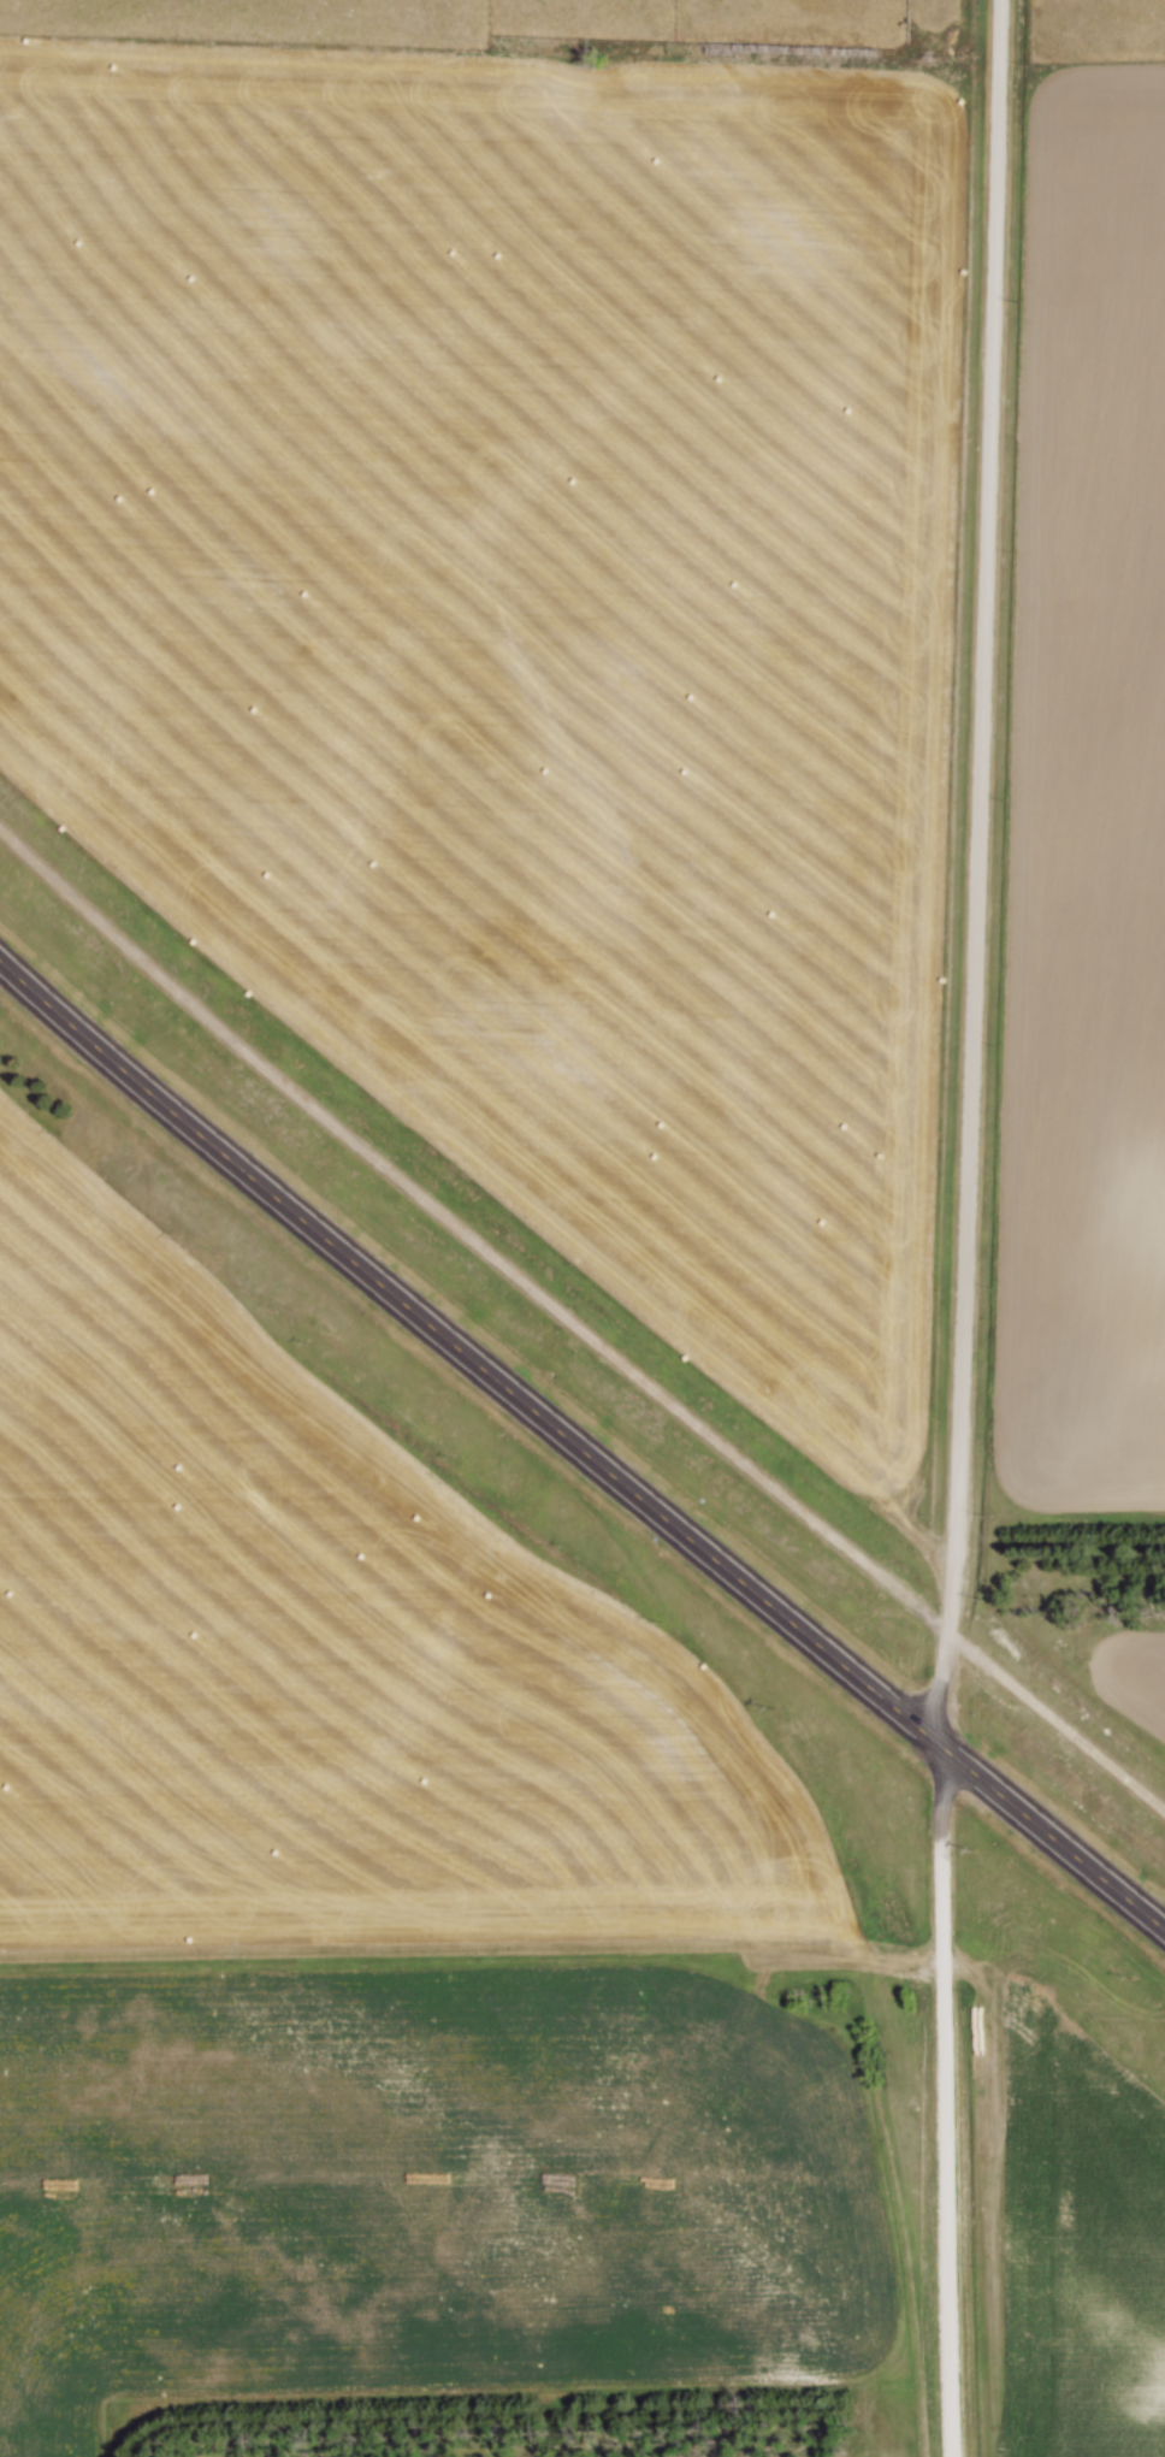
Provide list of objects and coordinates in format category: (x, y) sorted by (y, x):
road: (970, 1229)
road: (574, 1325)
road: (579, 1446)

